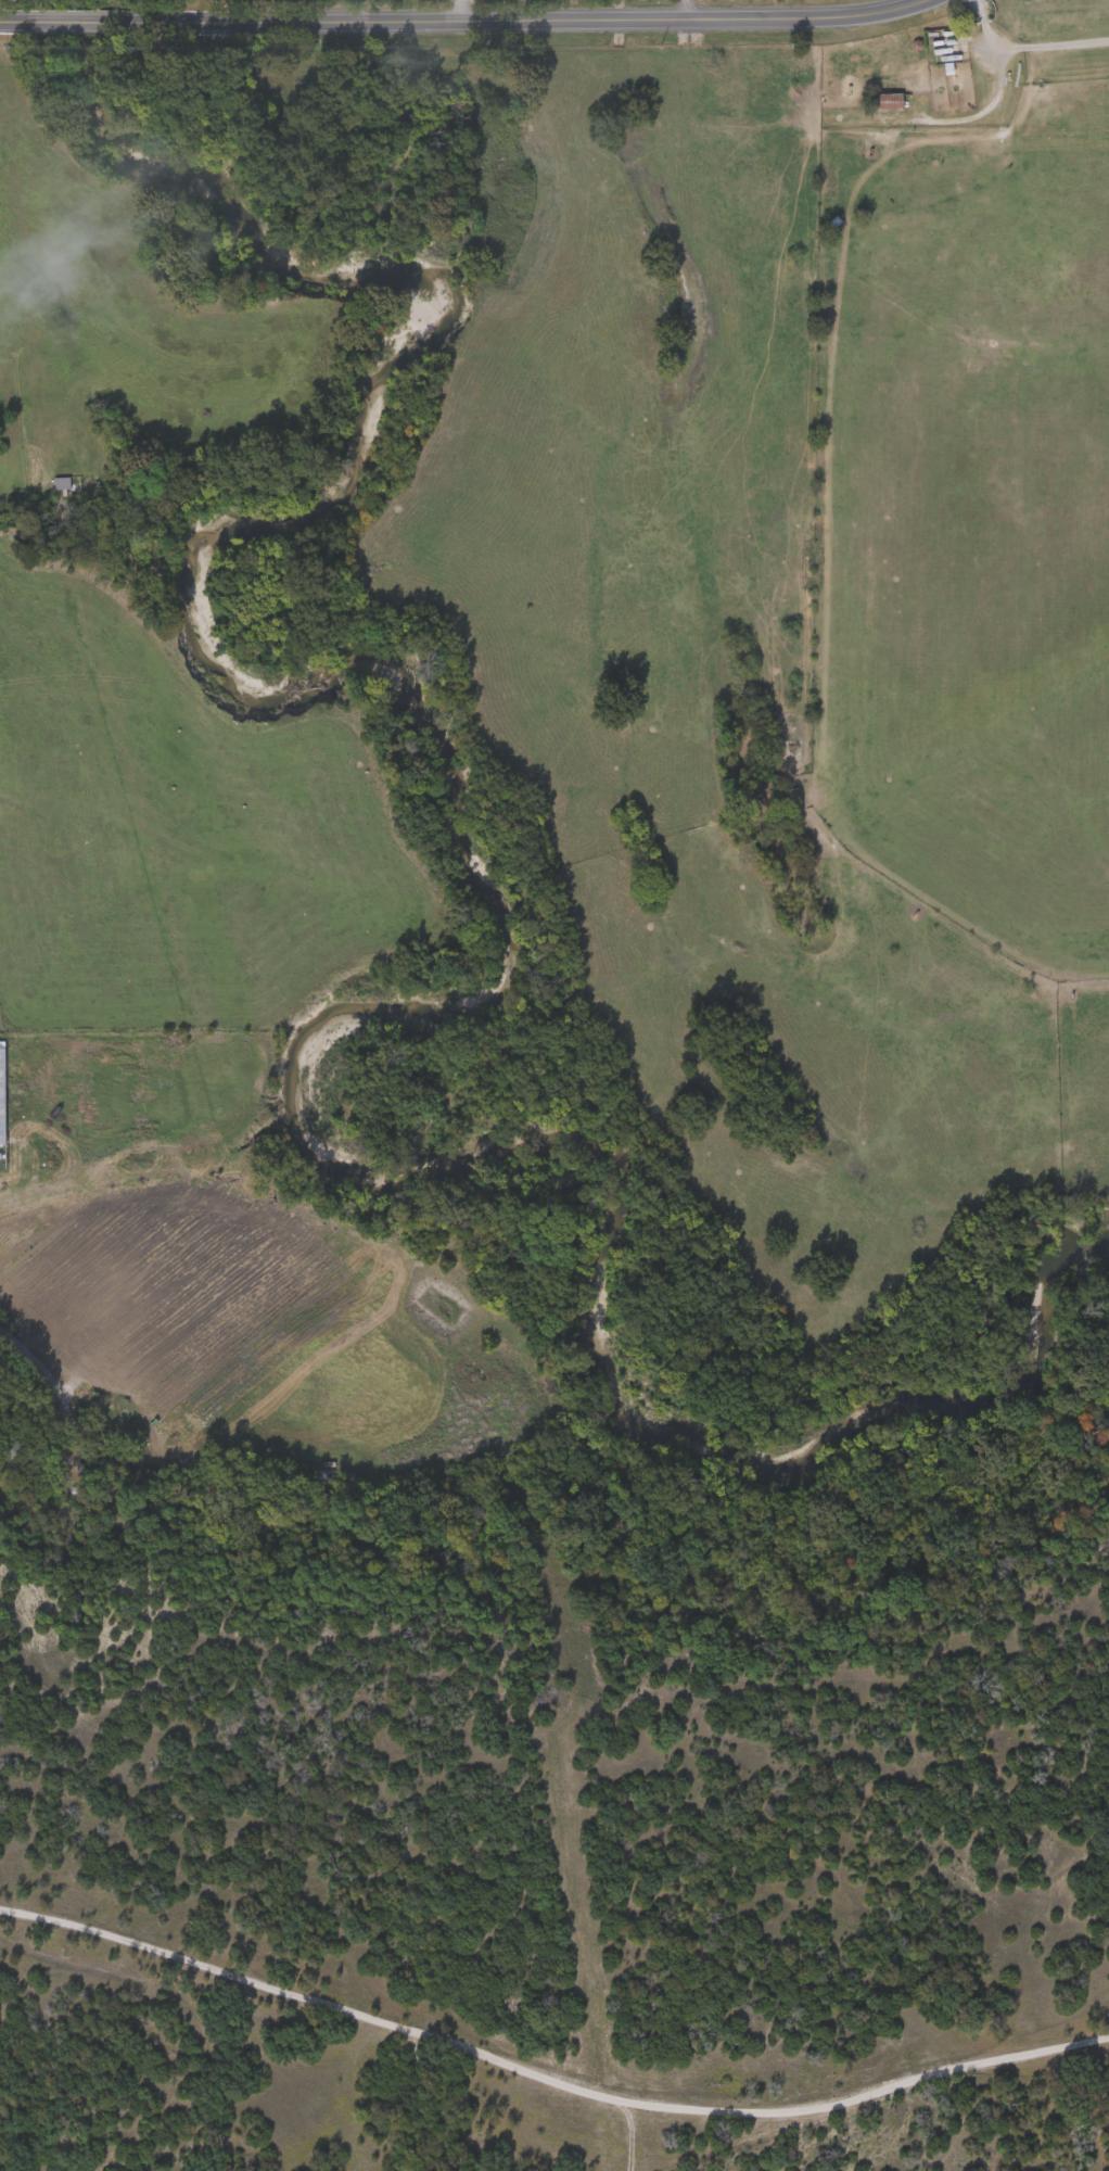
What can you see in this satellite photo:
road: (685, 10)
road: (7, 16)
road: (69, 16)
road: (522, 20)
road: (1031, 41)
building: (879, 100)
road: (990, 102)
river: (497, 947)
road: (42, 1375)
road: (319, 2021)
road: (875, 2099)

